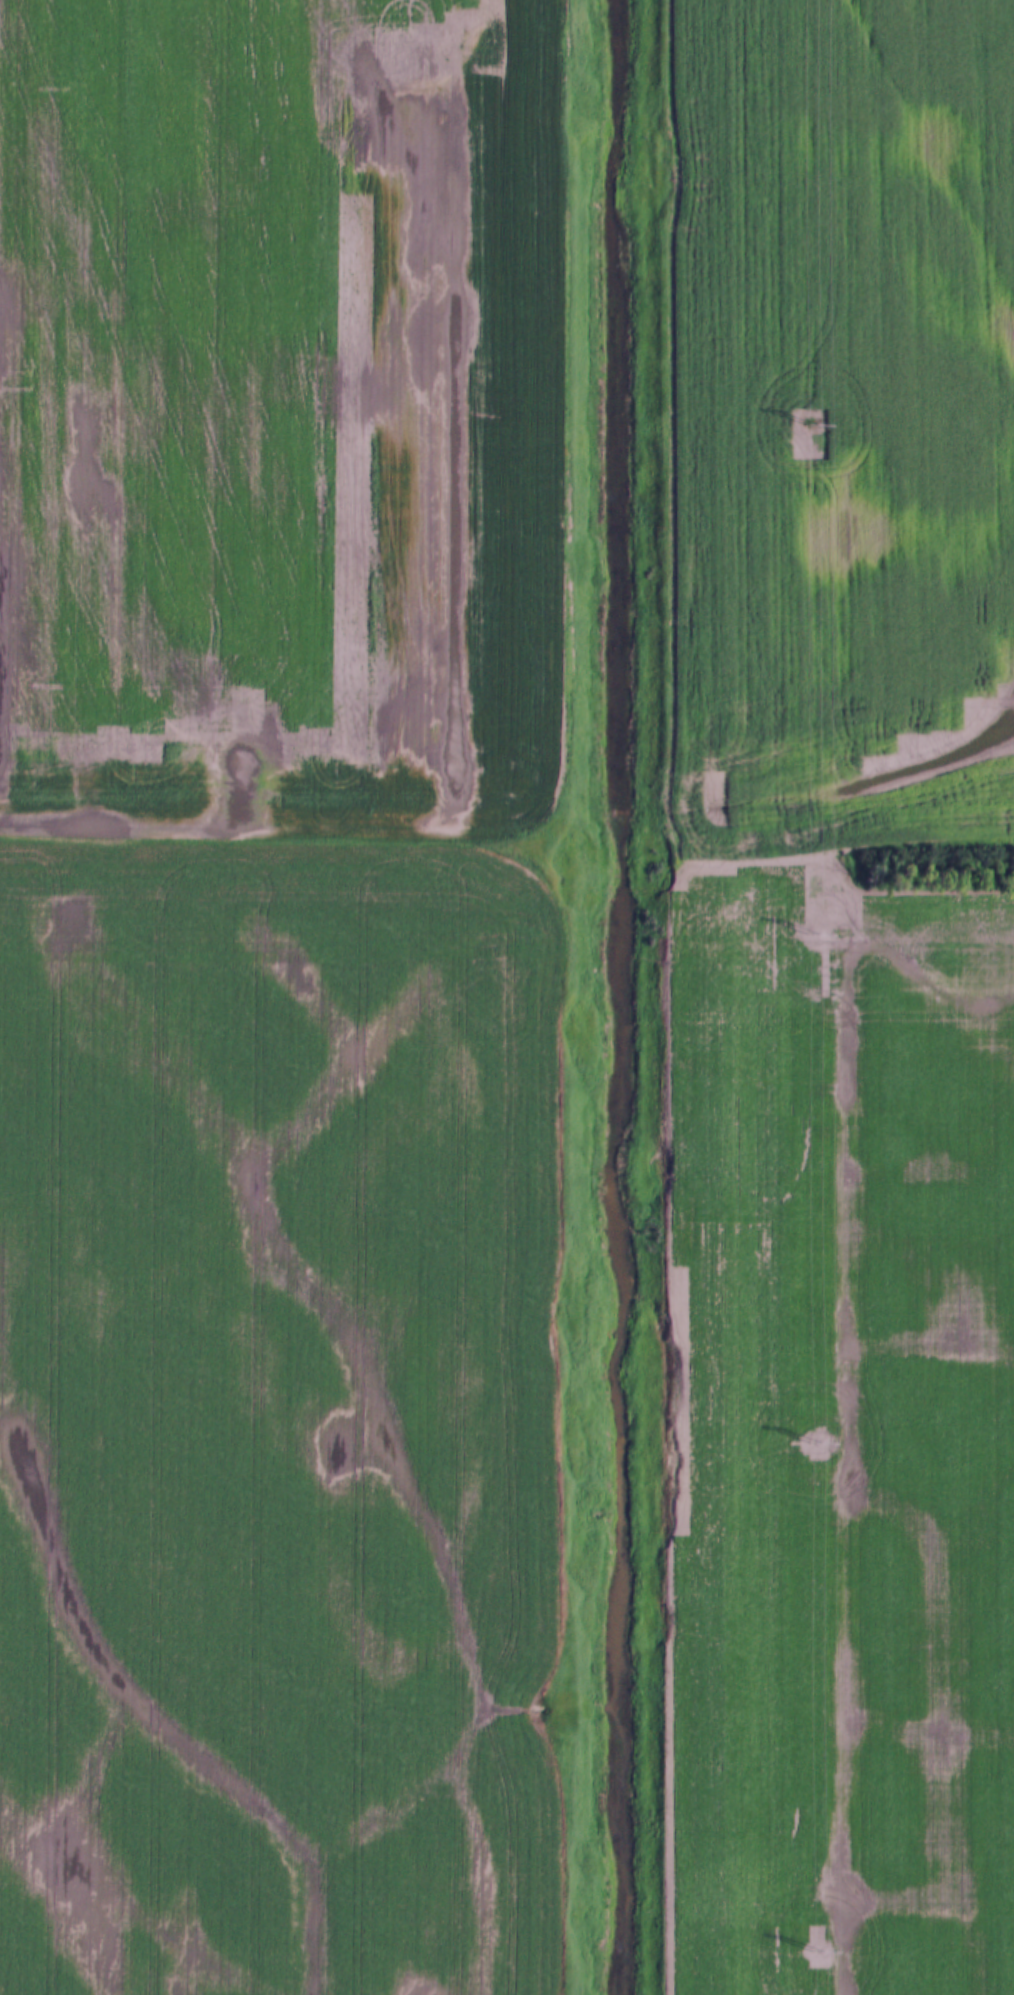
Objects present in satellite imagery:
power tower: (810, 427)
power tower: (813, 932)
power tower: (816, 1443)
power tower: (819, 1952)

